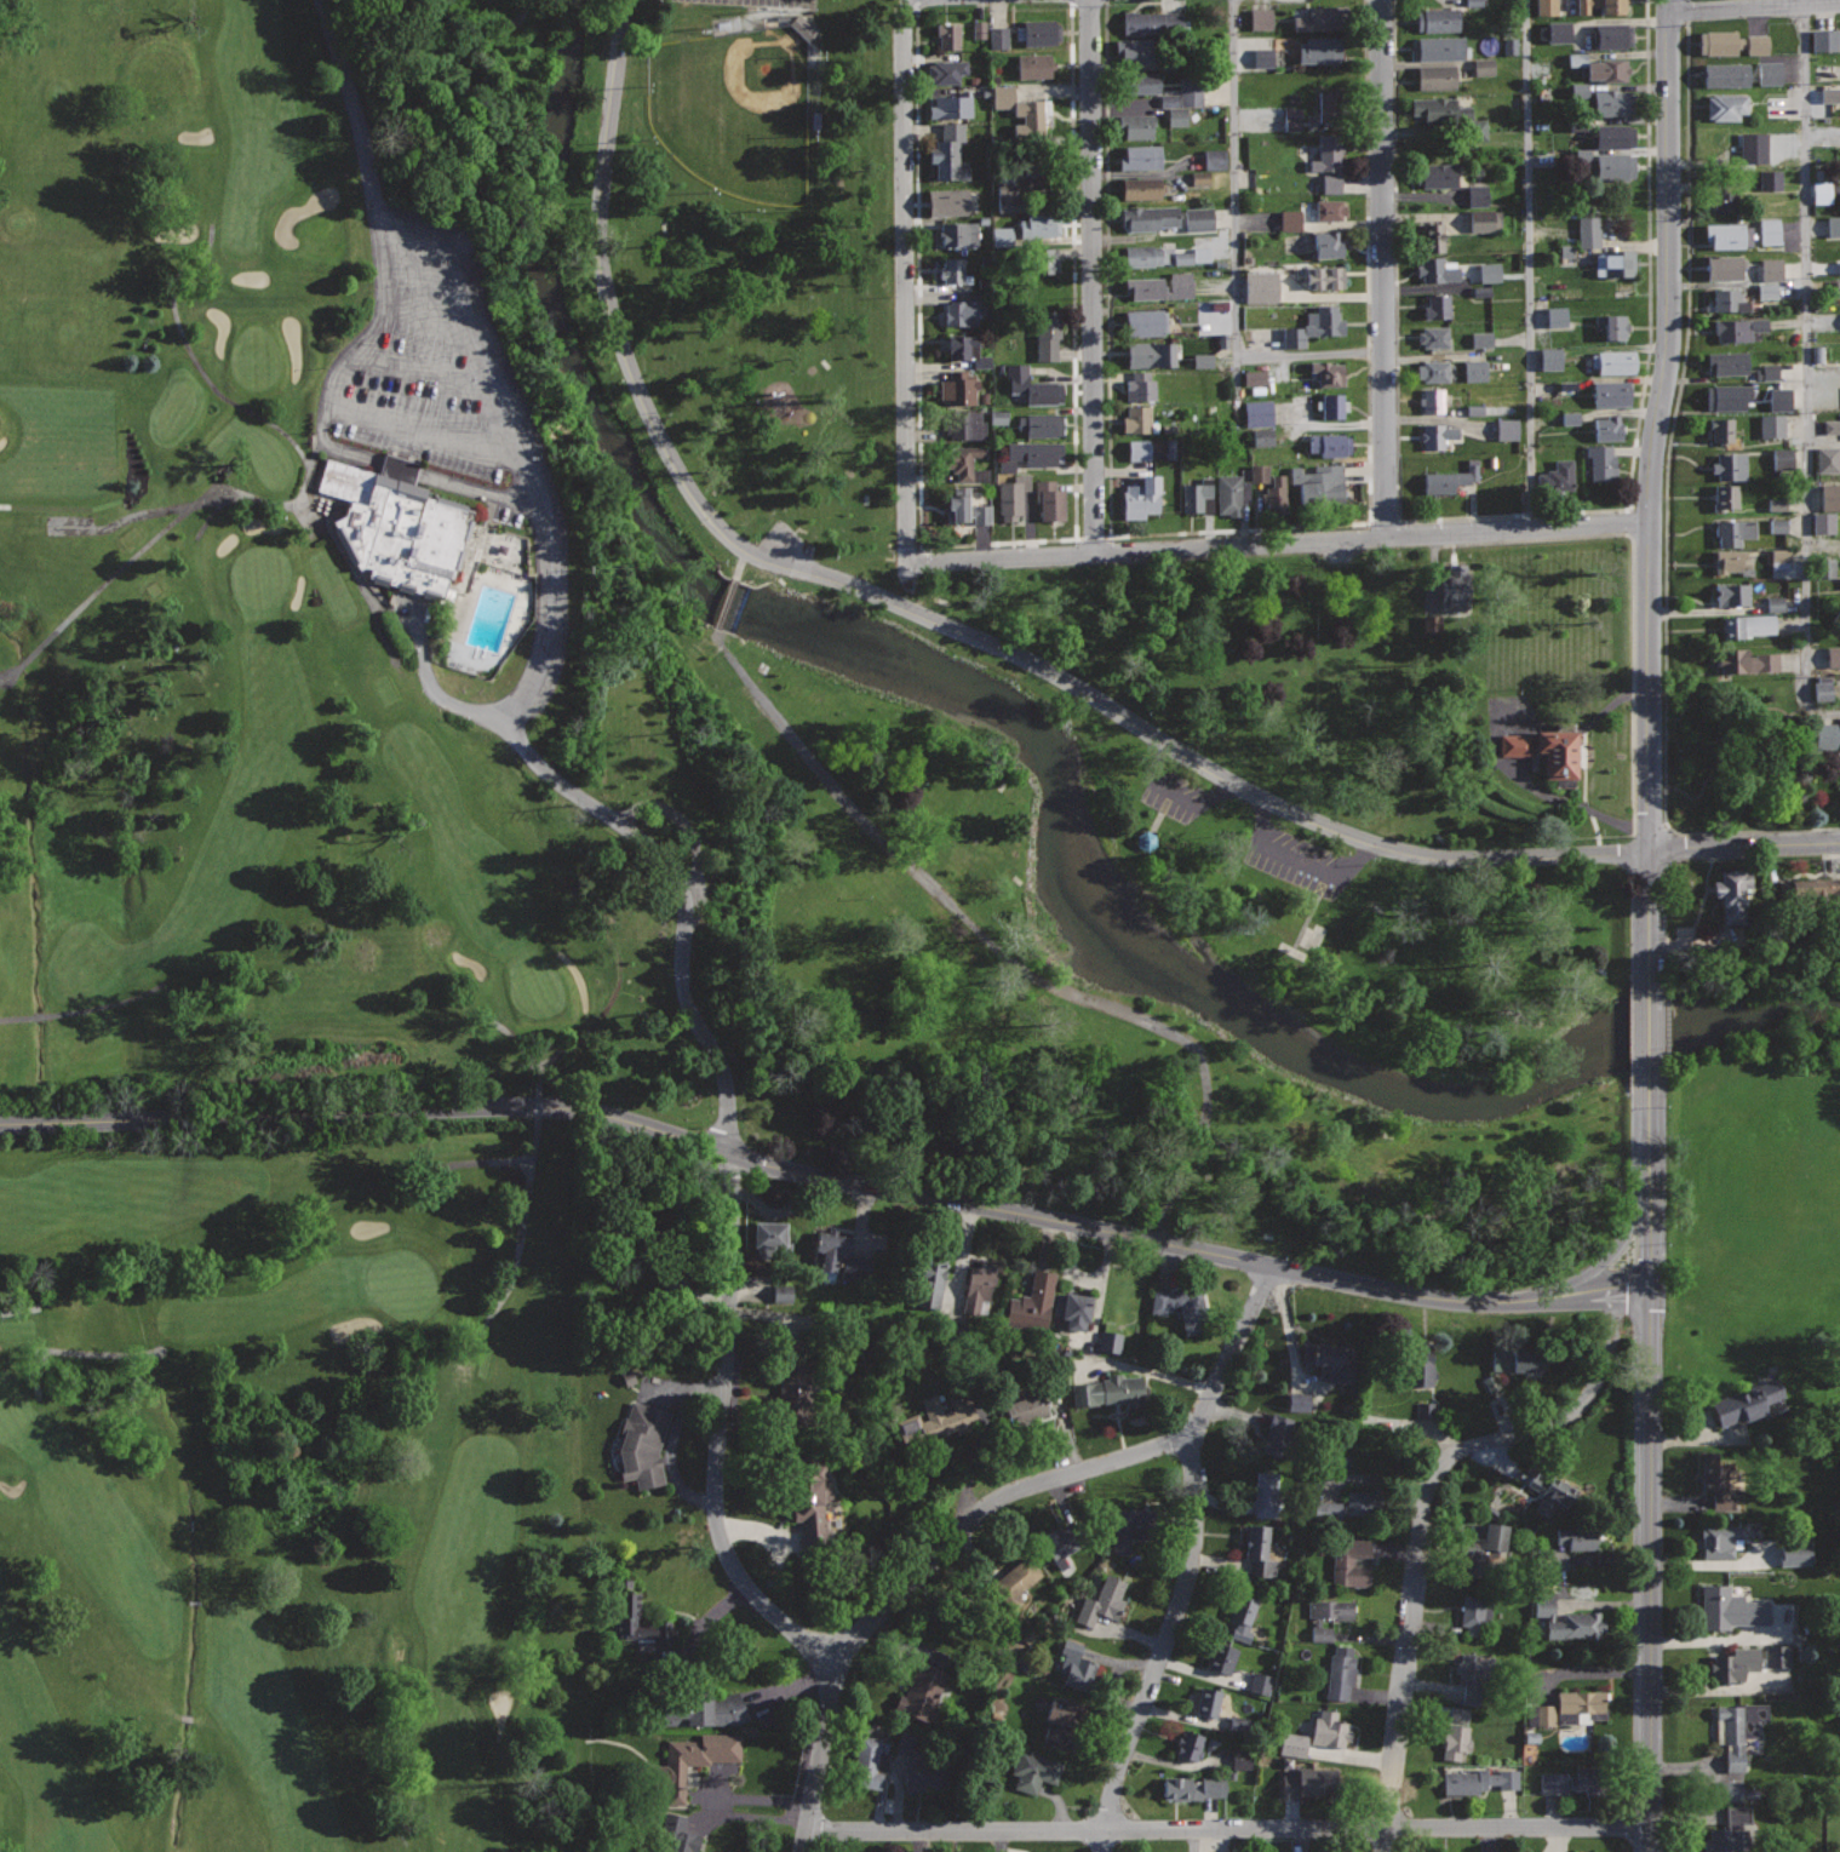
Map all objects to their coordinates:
road: (916, 2)
parking lot: (750, 5)
building: (1601, 5)
building: (1546, 6)
road: (1752, 6)
building: (1322, 17)
building: (1260, 18)
building: (1438, 19)
building: (1152, 21)
building: (978, 29)
building: (802, 30)
road: (495, 31)
building: (1038, 31)
building: (1558, 31)
building: (1612, 35)
building: (947, 36)
building: (997, 38)
building: (1824, 39)
building: (1731, 42)
building: (1509, 45)
building: (1440, 47)
building: (1136, 48)
building: (1319, 48)
building: (1262, 57)
building: (1034, 64)
building: (1484, 67)
building: (947, 70)
building: (1610, 70)
building: (1769, 71)
building: (1727, 74)
building: (1437, 76)
building: (1141, 81)
building: (1578, 90)
building: (819, 91)
building: (1190, 91)
building: (1829, 94)
road: (349, 102)
building: (1611, 102)
building: (951, 105)
building: (1331, 105)
building: (1726, 105)
building: (1435, 108)
building: (1022, 109)
building: (1173, 109)
park: (734, 110)
building: (1291, 119)
building: (1136, 125)
building: (1613, 136)
building: (1726, 139)
building: (1753, 147)
building: (950, 150)
building: (1582, 155)
building: (1140, 156)
building: (1213, 159)
building: (1330, 160)
building: (1027, 165)
building: (1612, 166)
building: (1438, 174)
building: (1199, 177)
building: (1769, 179)
building: (1141, 188)
building: (1821, 193)
building: (1477, 195)
building: (1010, 196)
building: (948, 200)
building: (1723, 201)
road: (1236, 208)
building: (1328, 208)
building: (1152, 216)
building: (1197, 218)
building: (1289, 219)
building: (1483, 220)
building: (1039, 224)
building: (1833, 225)
building: (1588, 231)
building: (1769, 231)
building: (959, 233)
building: (1729, 234)
building: (1001, 236)
building: (1431, 236)
building: (1328, 243)
building: (1565, 251)
building: (1145, 256)
building: (1182, 258)
building: (1039, 259)
building: (1615, 262)
road: (1529, 264)
building: (1724, 266)
building: (1839, 266)
road: (1380, 268)
building: (1770, 269)
building: (955, 270)
building: (1438, 270)
building: (1489, 271)
road: (1094, 276)
building: (1325, 276)
road: (905, 282)
building: (1260, 286)
building: (1160, 287)
building: (1766, 289)
building: (1480, 291)
building: (1729, 300)
building: (1437, 305)
building: (961, 311)
building: (1555, 316)
building: (1145, 322)
building: (1612, 325)
building: (1315, 326)
building: (1738, 328)
building: (1048, 334)
building: (1434, 336)
building: (1480, 339)
building: (967, 348)
building: (1152, 354)
road: (1308, 355)
building: (1549, 359)
building: (1200, 360)
building: (1615, 361)
building: (1729, 361)
road: (201, 366)
building: (1474, 369)
road: (1806, 369)
building: (1433, 371)
building: (1769, 371)
parking lot: (425, 372)
building: (1330, 373)
building: (1254, 377)
building: (1032, 385)
building: (1141, 385)
building: (963, 386)
building: (1611, 392)
building: (1729, 396)
building: (1779, 399)
building: (1432, 400)
building: (1332, 405)
building: (1474, 409)
building: (1257, 413)
building: (1569, 418)
building: (1140, 419)
road: (1655, 423)
building: (967, 424)
building: (1042, 424)
building: (1771, 425)
building: (1832, 426)
building: (1607, 428)
building: (1507, 429)
building: (1723, 429)
building: (1439, 435)
building: (1262, 436)
road: (326, 437)
building: (1330, 443)
building: (1137, 449)
building: (1037, 451)
building: (1782, 458)
building: (1827, 459)
building: (965, 461)
building: (1603, 463)
building: (1731, 465)
building: (1259, 472)
building: (1557, 475)
building: (1452, 477)
building: (1318, 482)
building: (1233, 493)
building: (1277, 493)
building: (1198, 494)
building: (1142, 495)
building: (1725, 495)
building: (1830, 495)
building: (1010, 497)
building: (1050, 498)
building: (959, 501)
building: (1777, 504)
road: (1664, 510)
building: (979, 514)
road: (1508, 515)
road: (124, 518)
building: (1822, 522)
building: (396, 523)
building: (1777, 526)
road: (165, 527)
road: (1232, 529)
building: (1735, 531)
road: (997, 539)
parking lot: (784, 541)
road: (1278, 541)
building: (1779, 555)
building: (1729, 560)
road: (740, 564)
building: (1824, 567)
building: (1454, 587)
road: (1633, 589)
building: (1733, 594)
building: (1775, 603)
road: (726, 606)
road: (924, 615)
building: (1748, 625)
building: (1833, 656)
building: (1746, 660)
building: (1822, 688)
road: (526, 693)
park: (980, 712)
building: (1827, 735)
building: (1514, 745)
river: (1038, 750)
building: (1557, 752)
park: (1731, 755)
parking lot: (1257, 837)
road: (1744, 844)
building: (1733, 893)
building: (1809, 895)
road: (1650, 907)
road: (1002, 951)
park: (285, 987)
road: (84, 1009)
road: (1650, 1020)
road: (537, 1116)
road: (1649, 1176)
road: (826, 1179)
building: (770, 1239)
road: (1615, 1246)
building: (670, 1248)
building: (838, 1257)
building: (930, 1283)
building: (978, 1288)
building: (1032, 1302)
building: (1182, 1305)
building: (1072, 1309)
building: (841, 1337)
building: (1108, 1342)
road: (438, 1343)
road: (1229, 1354)
building: (1518, 1358)
building: (1331, 1360)
building: (1421, 1372)
building: (795, 1391)
building: (1110, 1391)
building: (1297, 1401)
building: (1746, 1401)
building: (1025, 1406)
building: (1423, 1410)
building: (939, 1418)
building: (1268, 1434)
road: (720, 1435)
building: (643, 1443)
building: (1716, 1480)
building: (1554, 1490)
building: (1265, 1493)
building: (1366, 1502)
road: (986, 1507)
building: (813, 1510)
building: (1328, 1510)
road: (1423, 1515)
building: (1129, 1527)
building: (1576, 1537)
building: (1721, 1539)
building: (1064, 1542)
building: (1260, 1548)
building: (1483, 1549)
building: (1795, 1553)
building: (1351, 1561)
road: (1649, 1565)
building: (1013, 1581)
building: (1102, 1600)
building: (1731, 1607)
building: (1480, 1611)
building: (634, 1613)
building: (1244, 1613)
building: (1328, 1615)
building: (1569, 1619)
road: (1163, 1646)
building: (1777, 1656)
building: (1221, 1657)
building: (1737, 1663)
building: (1077, 1664)
building: (1341, 1672)
building: (1473, 1672)
building: (1260, 1684)
building: (919, 1692)
building: (1209, 1701)
building: (1580, 1704)
building: (706, 1710)
building: (1457, 1714)
building: (1540, 1715)
building: (1062, 1716)
building: (1589, 1718)
building: (1737, 1728)
building: (1330, 1730)
building: (1457, 1741)
building: (905, 1743)
building: (1291, 1744)
building: (1190, 1745)
road: (378, 1748)
road: (819, 1755)
building: (697, 1759)
building: (1240, 1759)
building: (870, 1762)
building: (1034, 1770)
building: (925, 1771)
building: (1479, 1779)
building: (1575, 1779)
building: (1309, 1781)
building: (1193, 1787)
building: (1730, 1791)
road: (1228, 1828)
building: (1731, 1830)
building: (680, 1834)

